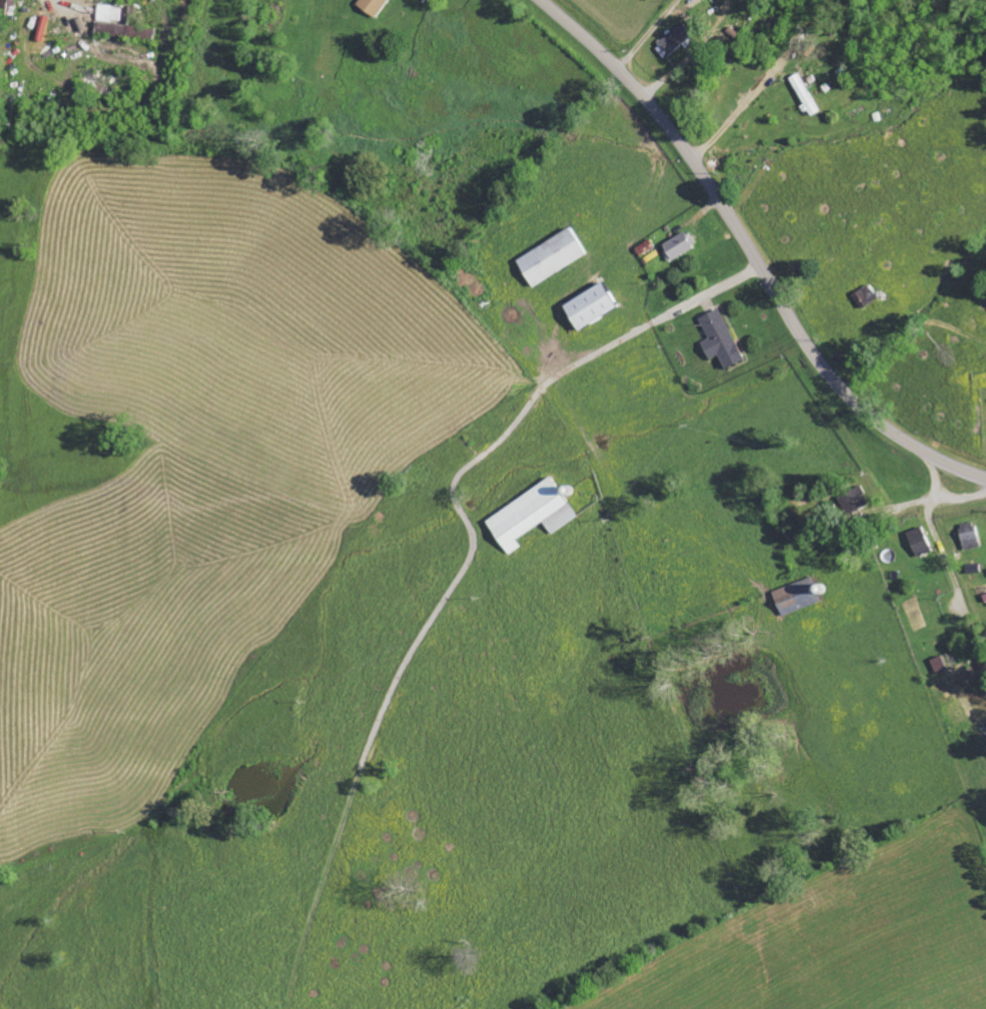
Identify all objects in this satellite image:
building: (7, 7)
building: (372, 7)
building: (119, 27)
building: (669, 44)
building: (803, 95)
building: (680, 245)
road: (754, 252)
building: (550, 256)
building: (588, 305)
road: (849, 319)
building: (720, 338)
building: (854, 498)
building: (529, 515)
building: (968, 536)
building: (919, 541)
building: (971, 568)
building: (797, 596)

